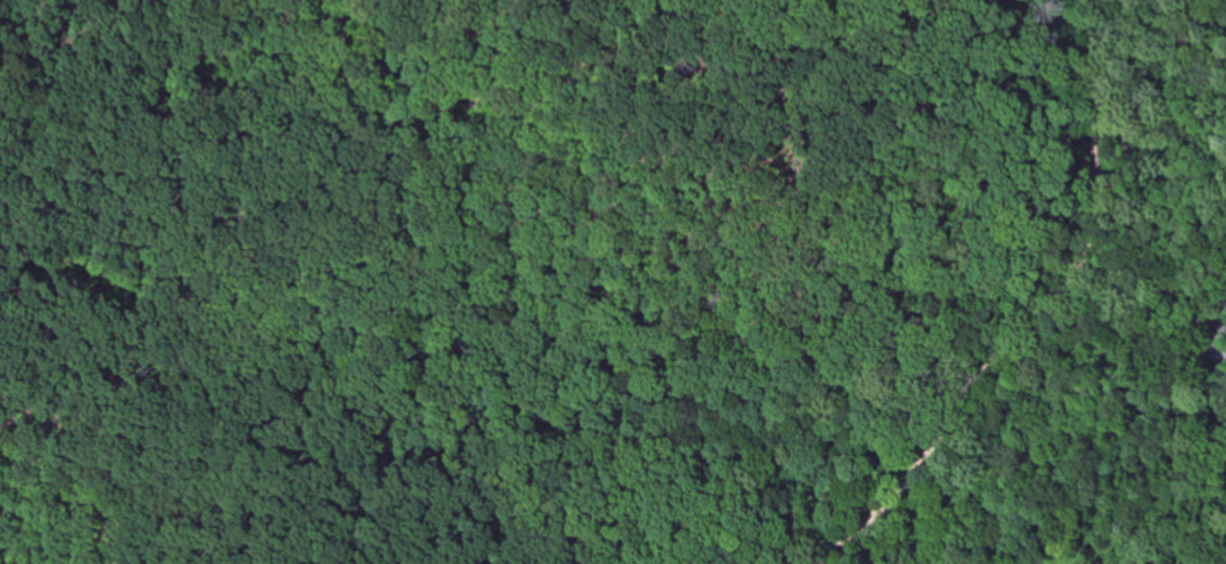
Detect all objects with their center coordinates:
road: (1044, 311)

